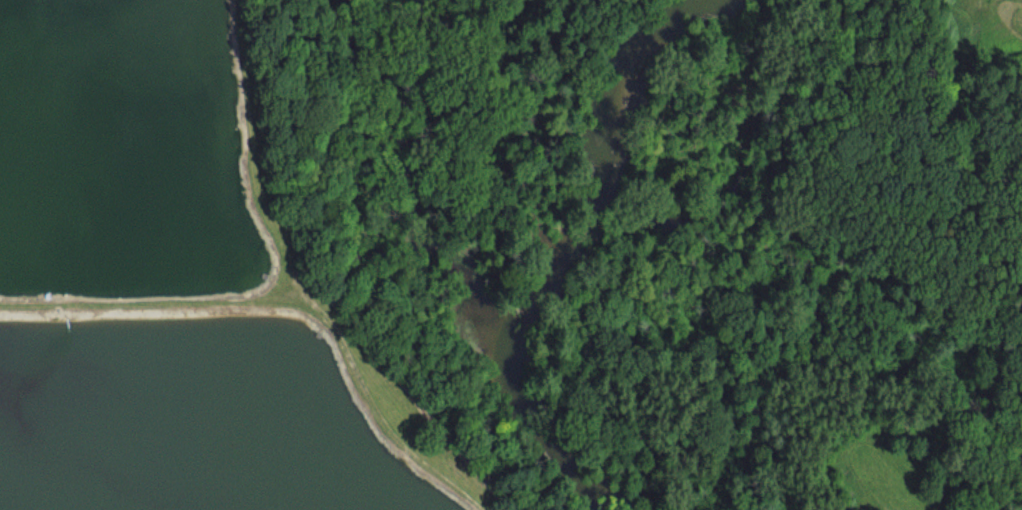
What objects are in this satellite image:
river: (571, 255)

